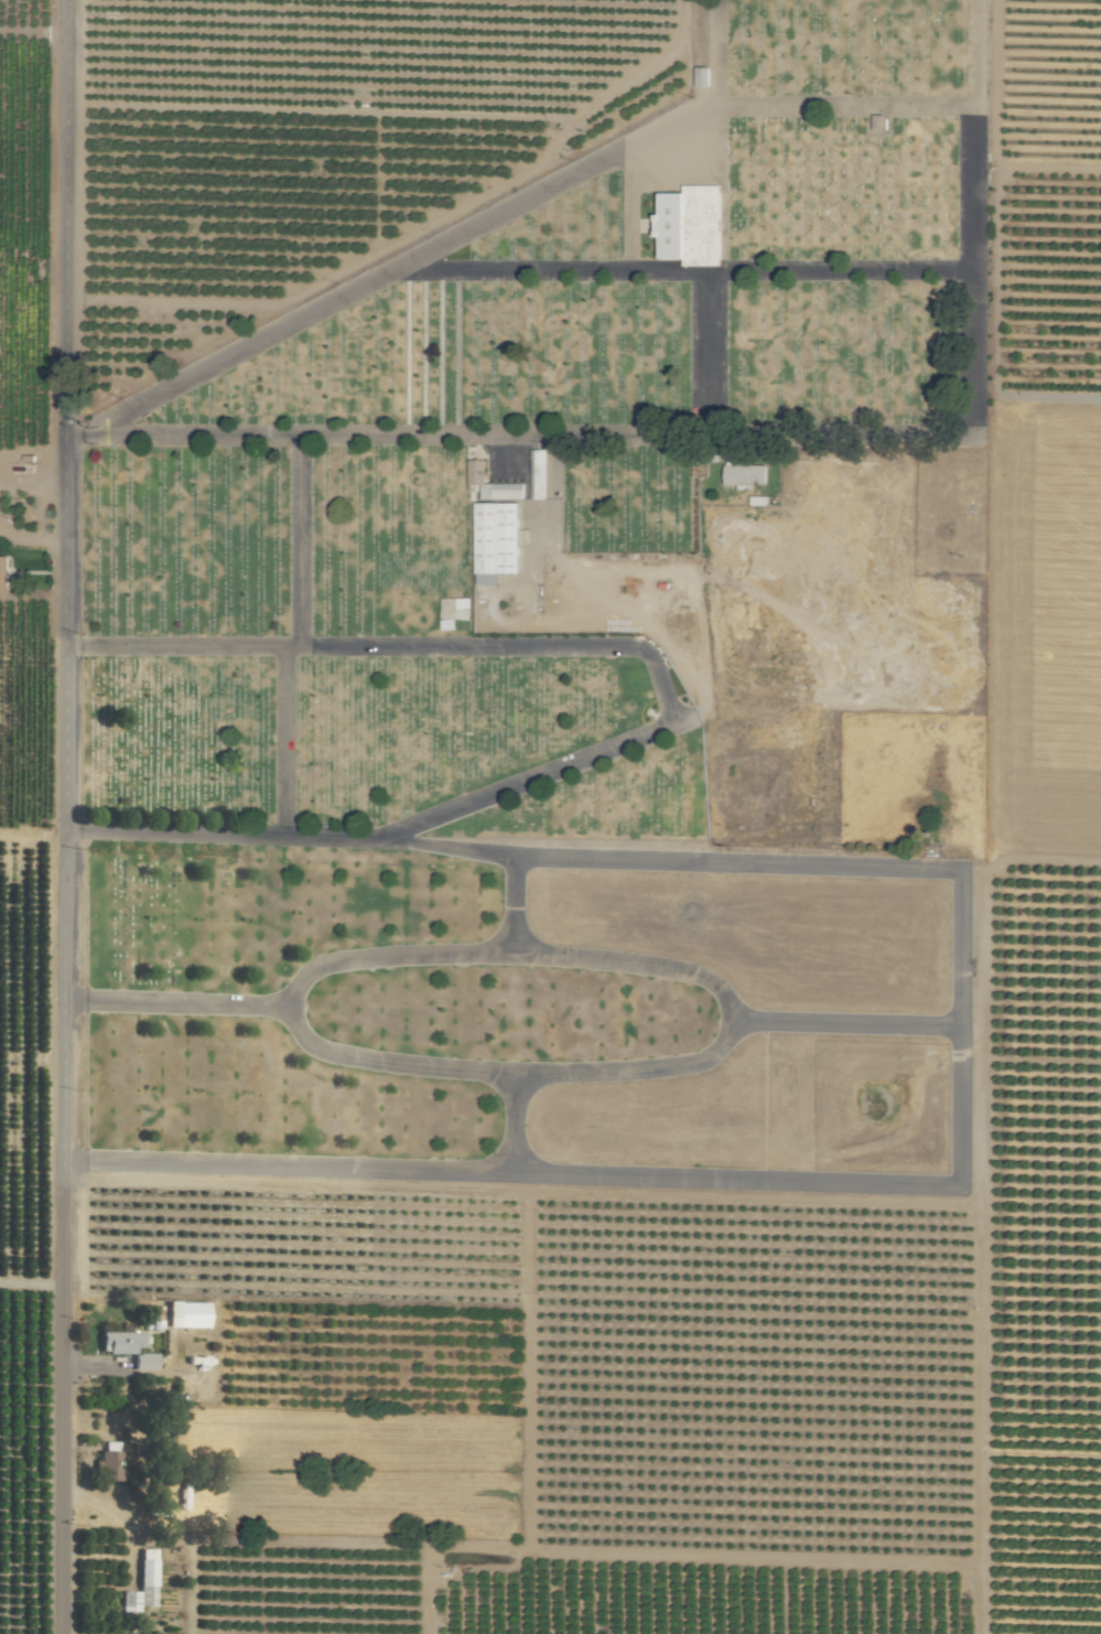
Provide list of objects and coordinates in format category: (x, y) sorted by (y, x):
building: (899, 35)
building: (703, 76)
building: (878, 121)
building: (691, 225)
road: (910, 276)
road: (246, 351)
road: (702, 401)
building: (537, 474)
building: (492, 484)
road: (289, 540)
building: (497, 541)
building: (3, 572)
building: (462, 609)
road: (667, 709)
road: (269, 742)
road: (73, 816)
crop: (536, 821)
road: (749, 861)
road: (499, 903)
road: (173, 1001)
road: (857, 1020)
road: (497, 1121)
building: (187, 1314)
building: (120, 1342)
building: (144, 1362)
building: (108, 1461)
building: (155, 1508)
building: (141, 1584)

